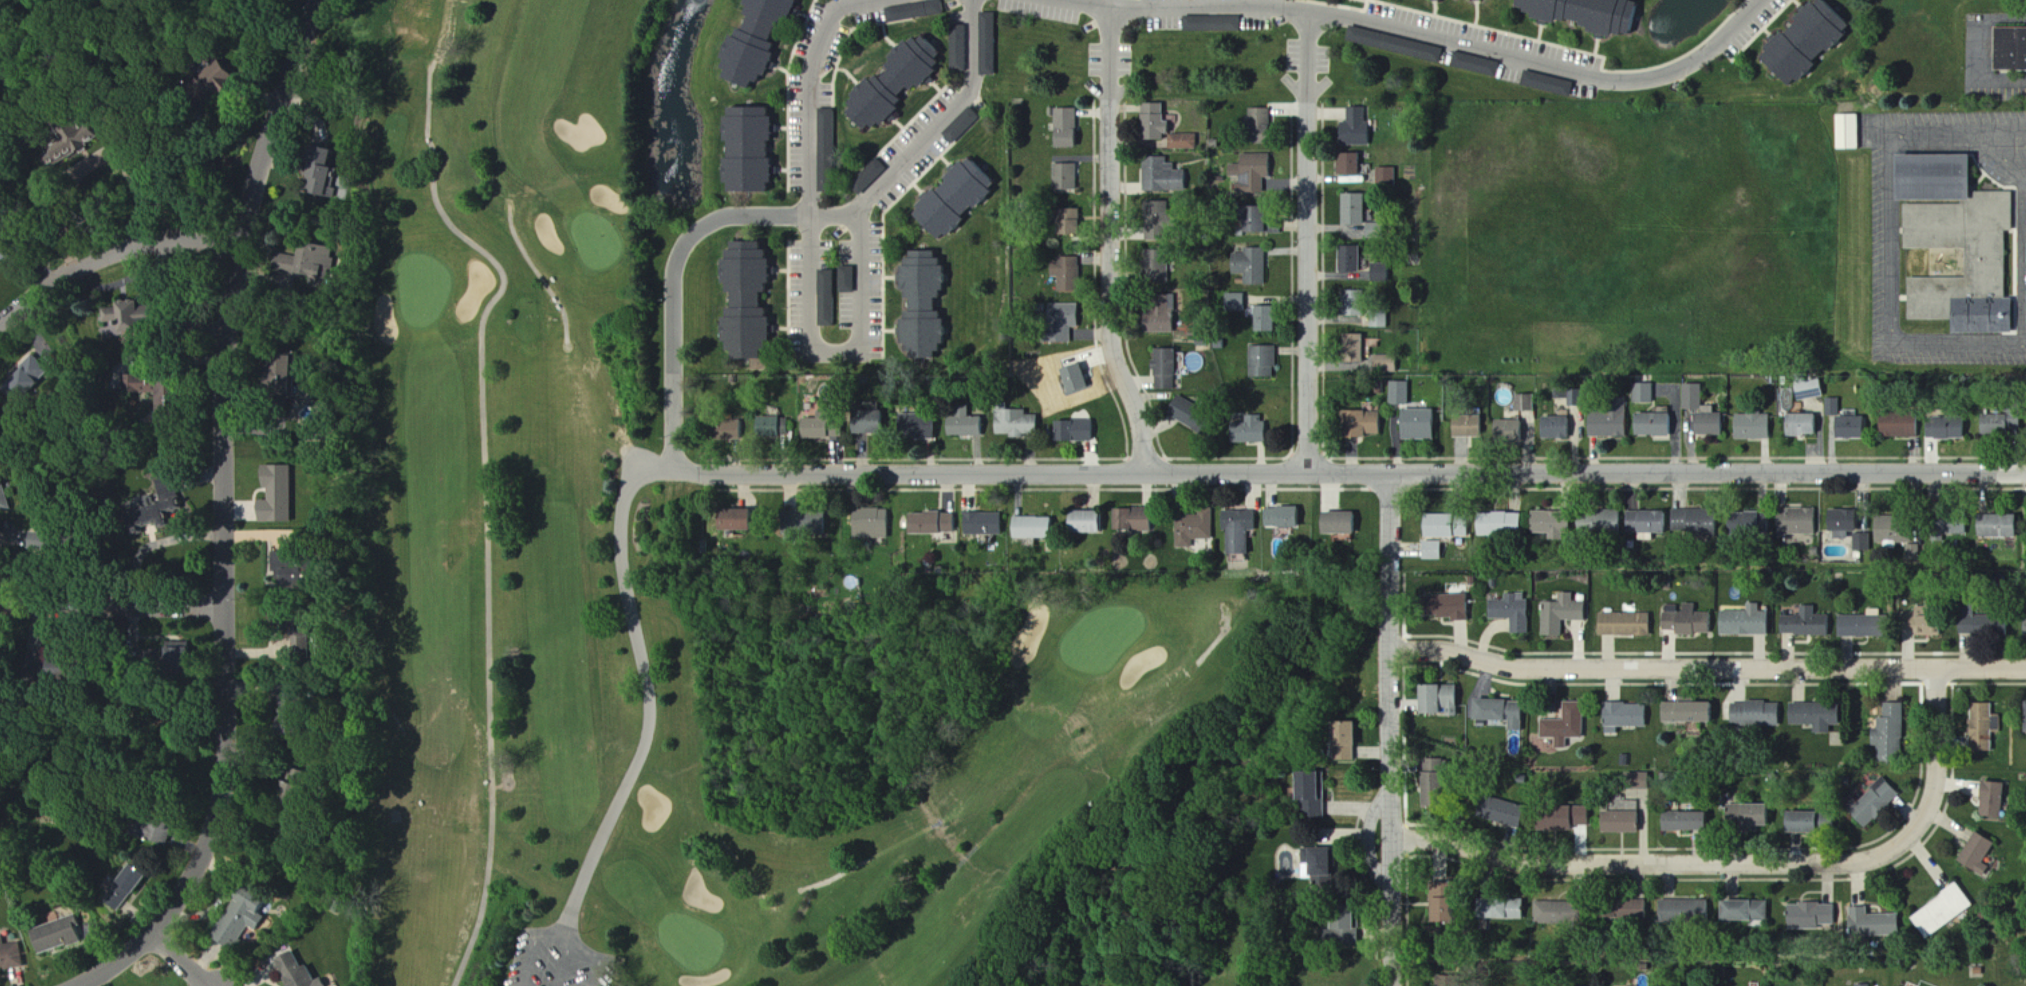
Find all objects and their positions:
building: (918, 11)
building: (1593, 14)
building: (1215, 24)
road: (1425, 37)
building: (764, 42)
building: (1810, 43)
building: (990, 45)
building: (1398, 45)
building: (2009, 49)
building: (962, 50)
building: (1479, 65)
building: (227, 77)
road: (2001, 79)
building: (901, 84)
building: (1550, 85)
building: (1264, 121)
building: (1158, 124)
building: (965, 126)
building: (1360, 128)
building: (1070, 129)
road: (2000, 129)
building: (1845, 131)
road: (926, 132)
building: (1186, 143)
building: (756, 151)
building: (830, 151)
road: (811, 153)
building: (1354, 165)
building: (1256, 173)
road: (134, 177)
building: (1166, 177)
building: (1390, 178)
building: (1068, 179)
building: (327, 181)
road: (69, 195)
building: (962, 200)
building: (1359, 211)
building: (1166, 222)
building: (1074, 223)
building: (1267, 223)
building: (1380, 232)
road: (1891, 232)
building: (1964, 236)
road: (1309, 243)
road: (1111, 245)
road: (115, 251)
road: (32, 252)
building: (1355, 260)
building: (318, 262)
building: (1161, 264)
building: (1254, 267)
building: (1384, 273)
building: (1070, 274)
building: (849, 280)
road: (675, 289)
building: (829, 299)
building: (754, 302)
road: (862, 302)
building: (1357, 302)
building: (1240, 303)
building: (930, 307)
building: (137, 316)
building: (1169, 318)
building: (1269, 320)
building: (1067, 321)
building: (1382, 321)
building: (1357, 346)
building: (1266, 363)
building: (1389, 363)
building: (299, 370)
building: (1171, 370)
building: (35, 379)
building: (1080, 381)
building: (1807, 389)
building: (1642, 393)
building: (1403, 394)
building: (1528, 404)
building: (175, 405)
building: (1833, 407)
building: (1700, 411)
building: (1199, 418)
building: (1367, 424)
building: (1606, 424)
building: (1652, 424)
building: (1800, 424)
building: (1996, 424)
building: (880, 425)
building: (1021, 425)
building: (1424, 425)
building: (1895, 425)
building: (970, 426)
building: (1751, 426)
building: (923, 427)
building: (1554, 427)
building: (1851, 427)
building: (778, 428)
building: (828, 428)
building: (1473, 428)
building: (1944, 428)
building: (735, 431)
building: (1514, 431)
building: (1079, 432)
building: (1253, 435)
road: (1351, 474)
building: (173, 494)
building: (283, 496)
building: (3, 497)
road: (236, 518)
building: (1288, 519)
building: (1841, 520)
building: (1138, 521)
building: (1645, 521)
building: (1795, 521)
building: (744, 522)
building: (1597, 522)
building: (1693, 522)
building: (1547, 523)
building: (1745, 523)
building: (168, 524)
building: (937, 524)
building: (1092, 524)
building: (1495, 524)
building: (875, 525)
building: (988, 525)
building: (1347, 525)
building: (818, 526)
building: (1950, 526)
building: (1994, 526)
building: (1447, 527)
building: (1037, 529)
building: (1890, 529)
building: (1197, 530)
building: (1244, 531)
building: (1862, 542)
building: (53, 544)
building: (1436, 551)
building: (301, 574)
park: (648, 585)
road: (115, 605)
building: (1445, 607)
building: (1511, 612)
building: (1560, 614)
building: (294, 618)
building: (1686, 620)
building: (1744, 621)
building: (1804, 623)
building: (1623, 624)
building: (1983, 625)
building: (2023, 625)
building: (1857, 626)
building: (307, 654)
building: (186, 657)
road: (1708, 668)
building: (77, 671)
road: (650, 698)
building: (1437, 698)
building: (296, 708)
building: (1499, 712)
building: (1685, 712)
building: (1754, 713)
building: (1623, 715)
building: (1813, 716)
building: (2023, 716)
building: (1564, 725)
building: (1981, 726)
road: (1391, 730)
building: (1888, 732)
building: (1341, 741)
building: (1433, 764)
building: (1429, 787)
building: (1989, 800)
building: (1872, 803)
building: (1506, 813)
building: (1582, 816)
building: (1552, 818)
building: (1680, 821)
building: (1619, 822)
building: (1797, 822)
building: (163, 832)
building: (1974, 854)
road: (1740, 862)
building: (1315, 864)
building: (132, 887)
building: (1436, 902)
building: (1501, 909)
building: (1630, 911)
building: (1682, 911)
building: (1741, 911)
building: (1940, 911)
building: (1554, 913)
building: (1808, 915)
building: (245, 918)
building: (1869, 923)
building: (62, 935)
road: (535, 948)
building: (11, 955)
road: (597, 959)
road: (184, 960)
road: (566, 965)
building: (302, 973)
building: (1862, 985)

